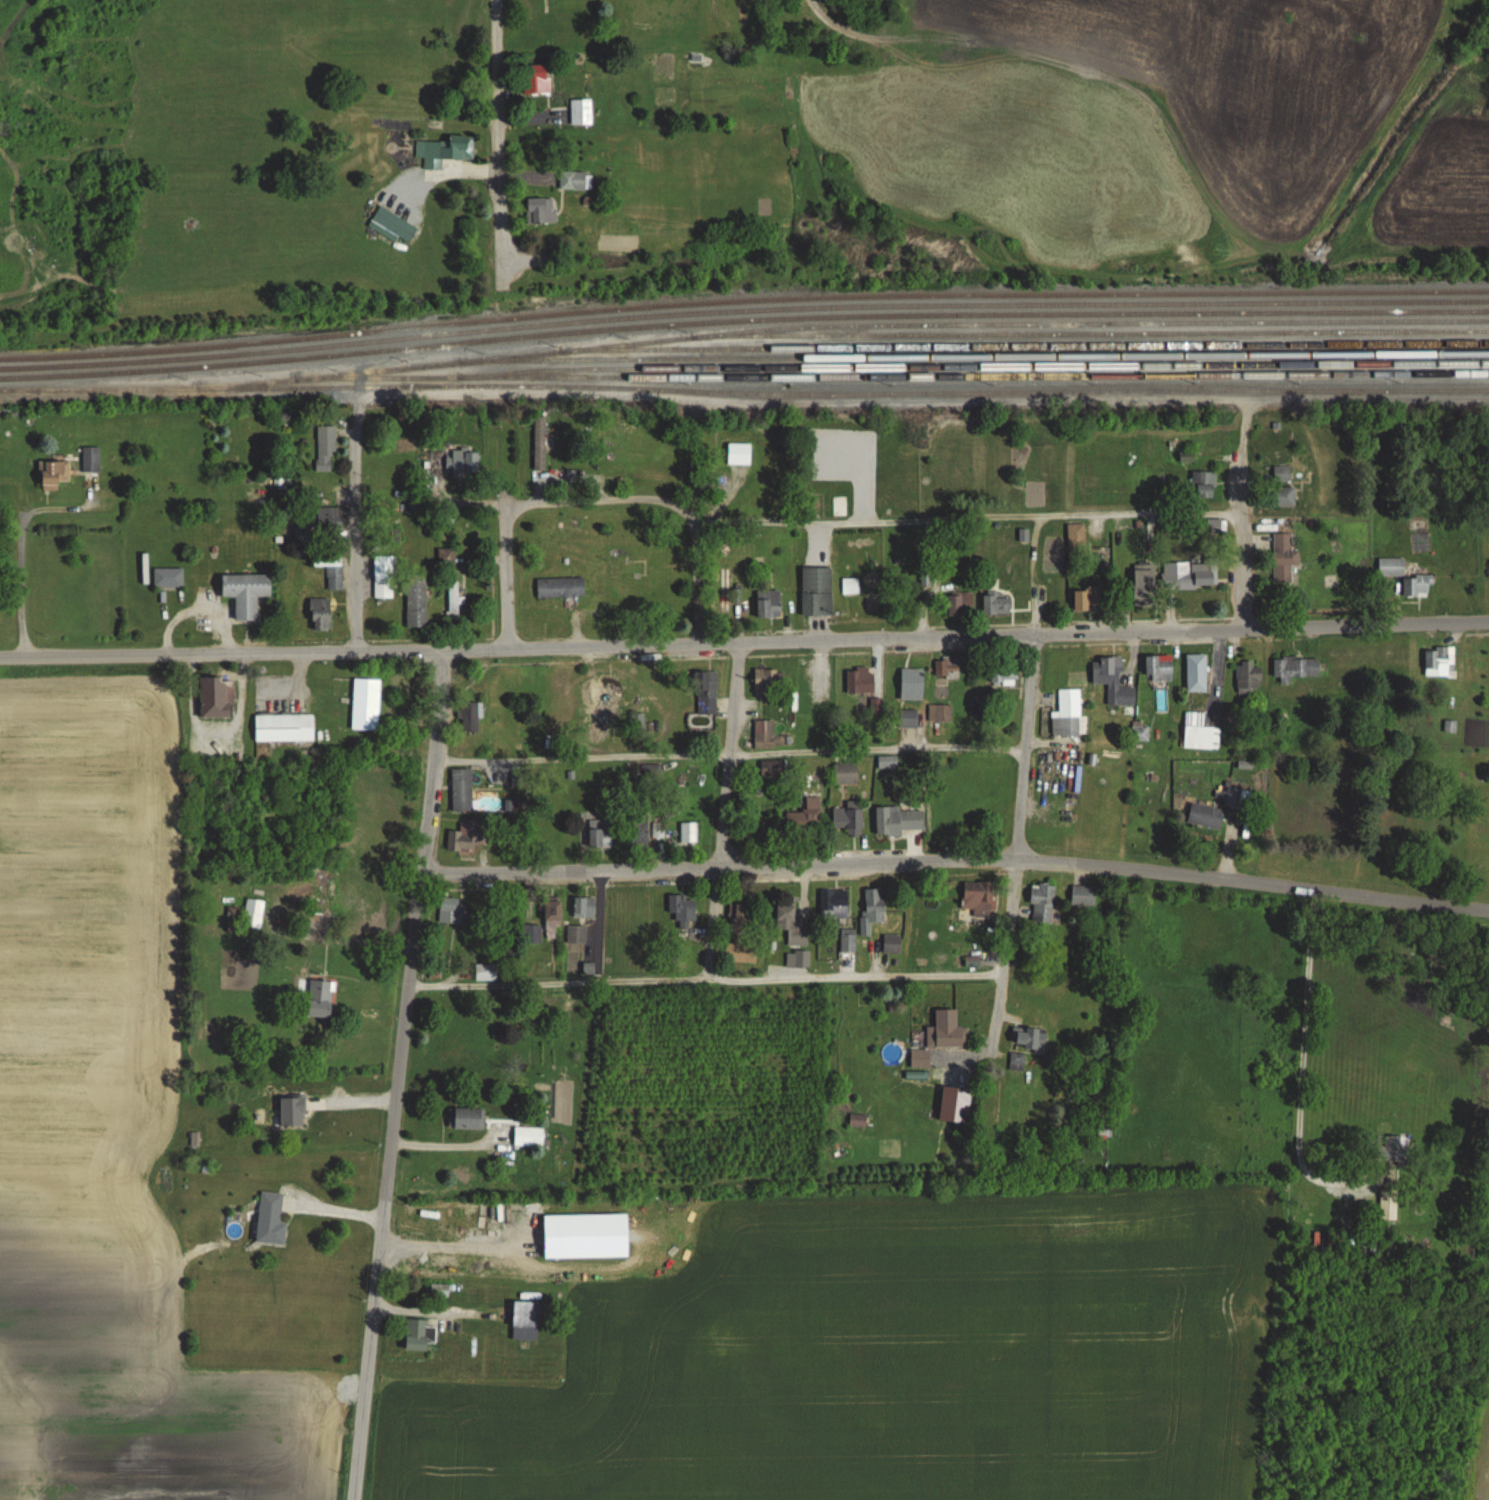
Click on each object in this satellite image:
building: (533, 80)
building: (580, 112)
road: (501, 138)
building: (444, 151)
building: (574, 181)
building: (540, 211)
building: (394, 225)
railway: (743, 301)
railway: (743, 313)
railway: (743, 322)
railway: (843, 327)
railway: (1090, 335)
railway: (1024, 348)
railway: (978, 358)
railway: (974, 368)
railway: (894, 377)
railway: (744, 394)
road: (912, 402)
building: (325, 449)
building: (90, 460)
building: (447, 461)
building: (1285, 470)
building: (54, 474)
building: (1204, 484)
building: (1282, 496)
road: (605, 500)
road: (968, 518)
building: (329, 519)
building: (1213, 530)
road: (356, 533)
building: (1076, 537)
building: (1283, 551)
road: (1242, 554)
building: (446, 557)
building: (330, 568)
road: (505, 570)
road: (1033, 573)
building: (1189, 575)
building: (383, 577)
building: (1404, 577)
building: (168, 578)
road: (697, 585)
building: (1143, 586)
building: (560, 588)
building: (724, 591)
building: (816, 591)
building: (245, 594)
building: (1087, 599)
building: (416, 600)
building: (453, 600)
building: (960, 603)
building: (996, 603)
building: (768, 604)
building: (319, 614)
road: (744, 641)
building: (1439, 661)
building: (946, 667)
building: (1158, 668)
building: (1295, 668)
building: (1003, 673)
building: (1195, 673)
building: (1107, 674)
building: (1247, 678)
building: (860, 680)
building: (769, 681)
building: (911, 684)
building: (607, 692)
building: (214, 697)
building: (706, 697)
building: (365, 704)
building: (939, 712)
building: (1067, 714)
building: (470, 717)
building: (908, 718)
building: (283, 728)
building: (1140, 731)
building: (766, 735)
building: (1201, 738)
road: (1024, 746)
road: (728, 755)
road: (729, 755)
road: (432, 761)
building: (773, 768)
building: (845, 773)
building: (462, 791)
building: (1235, 798)
building: (807, 805)
building: (848, 816)
building: (1205, 816)
building: (899, 821)
building: (658, 830)
building: (638, 833)
building: (600, 834)
building: (467, 839)
road: (956, 861)
building: (322, 887)
building: (1082, 896)
building: (979, 898)
building: (1042, 903)
building: (833, 905)
building: (583, 907)
building: (872, 908)
building: (452, 910)
building: (682, 910)
building: (252, 914)
building: (552, 917)
building: (740, 918)
building: (792, 922)
road: (713, 923)
building: (531, 934)
building: (575, 935)
building: (847, 941)
building: (891, 944)
road: (1001, 958)
building: (797, 959)
building: (485, 971)
road: (705, 979)
building: (320, 1000)
building: (944, 1037)
building: (1030, 1039)
road: (403, 1044)
building: (1016, 1062)
road: (1301, 1064)
building: (468, 1119)
building: (527, 1136)
building: (1397, 1149)
building: (1388, 1204)
building: (270, 1219)
building: (438, 1290)
building: (527, 1313)
building: (416, 1334)
road: (371, 1358)

